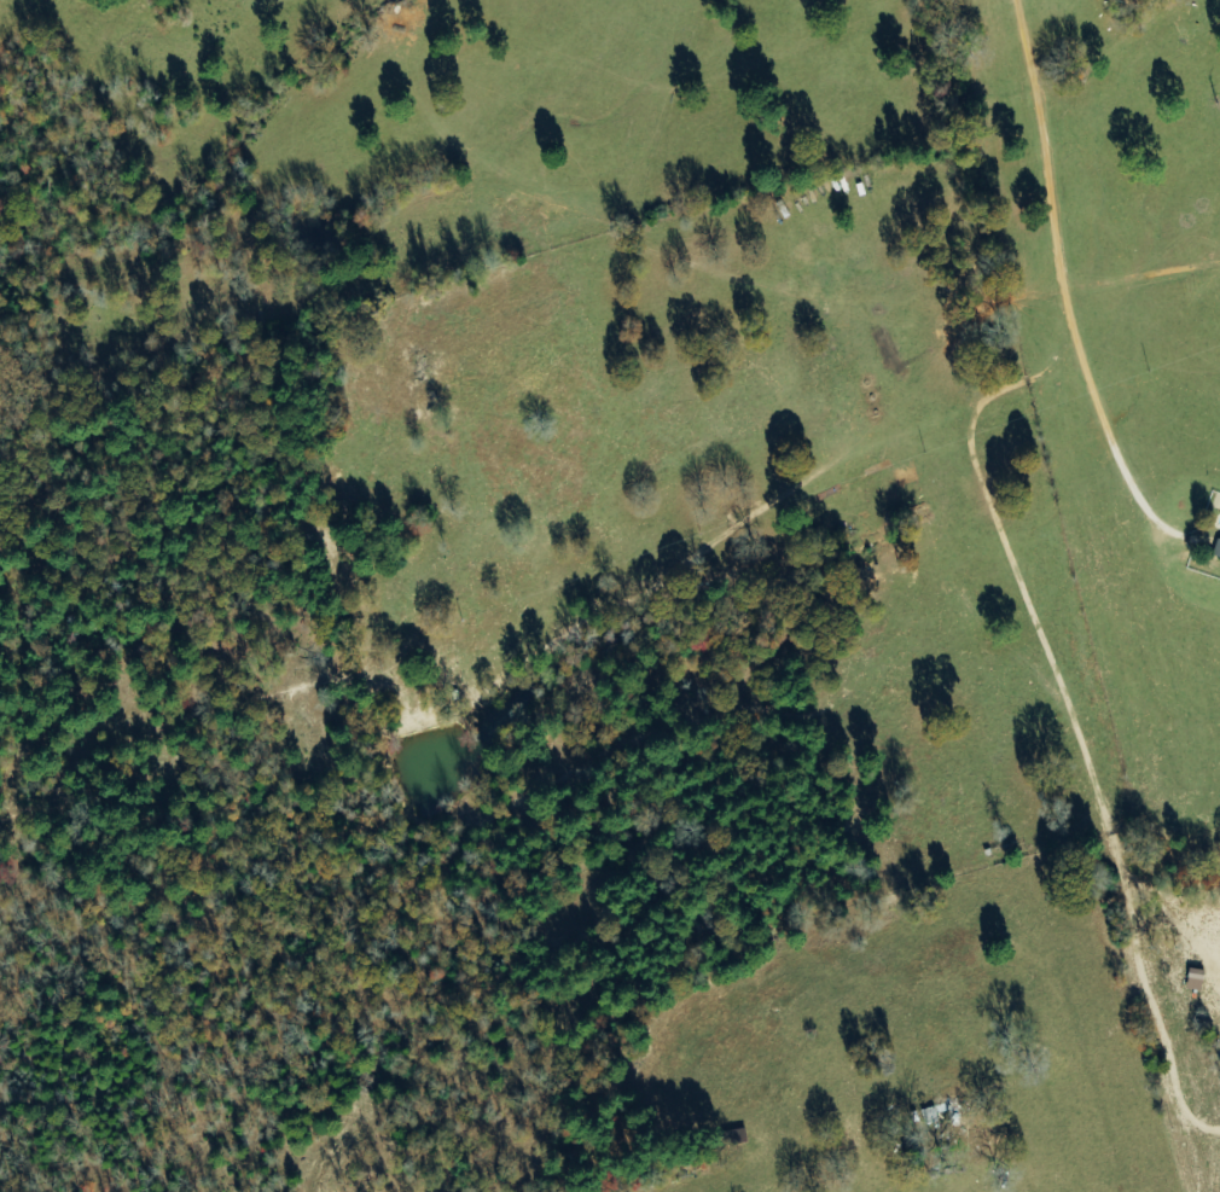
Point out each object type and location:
building: (1215, 551)
road: (1013, 954)
road: (1152, 967)
road: (1024, 989)

